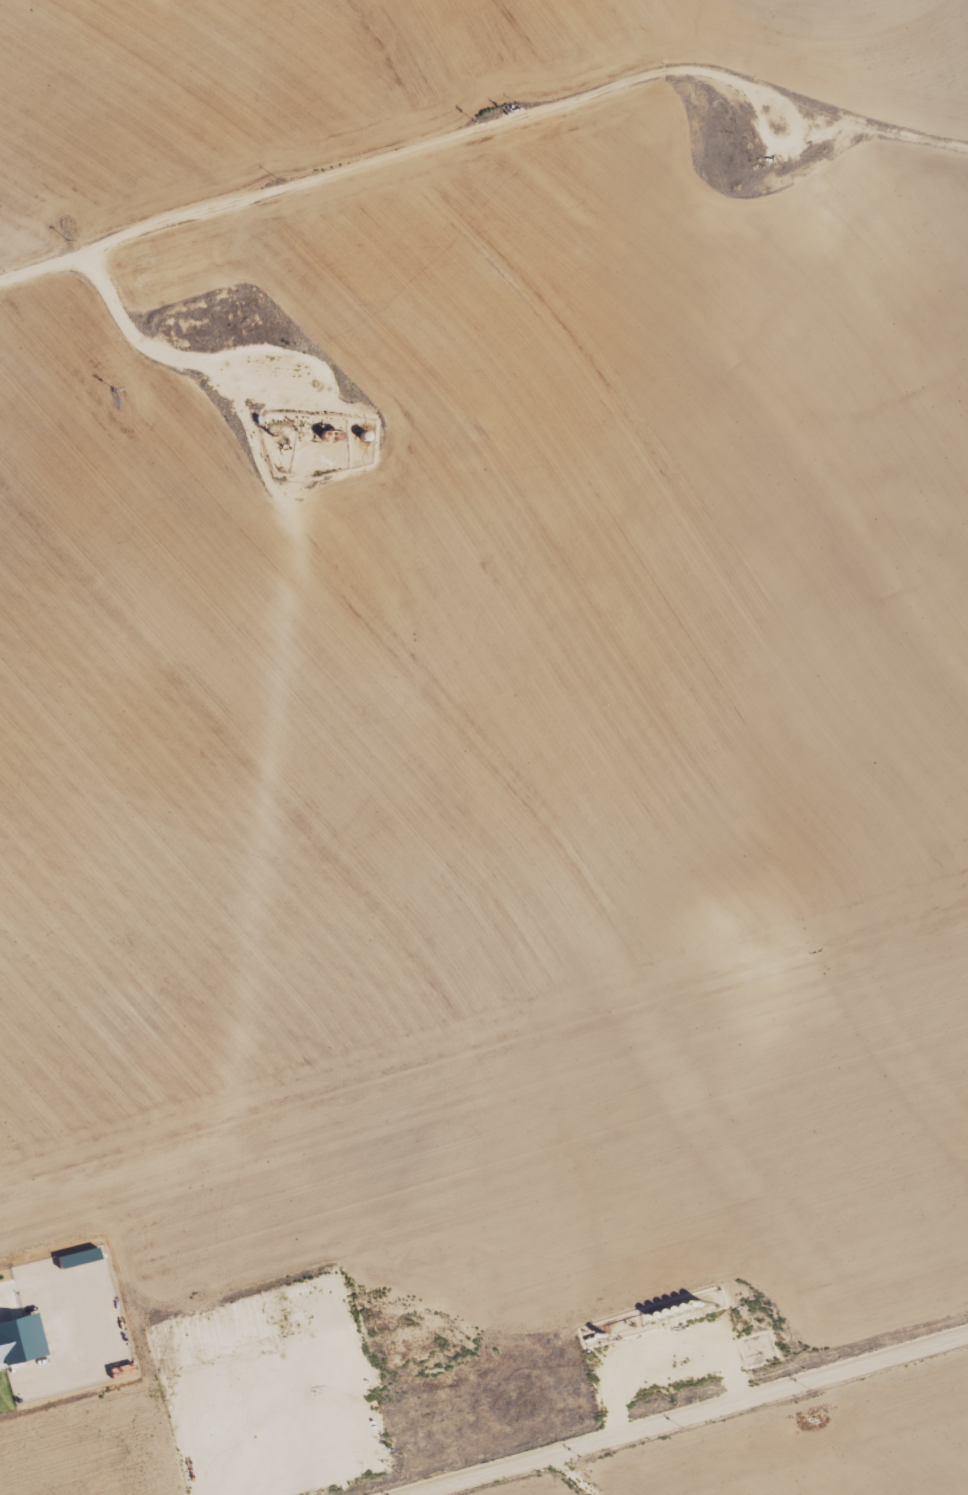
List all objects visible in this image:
building: (332, 435)
building: (361, 435)
road: (695, 1415)

